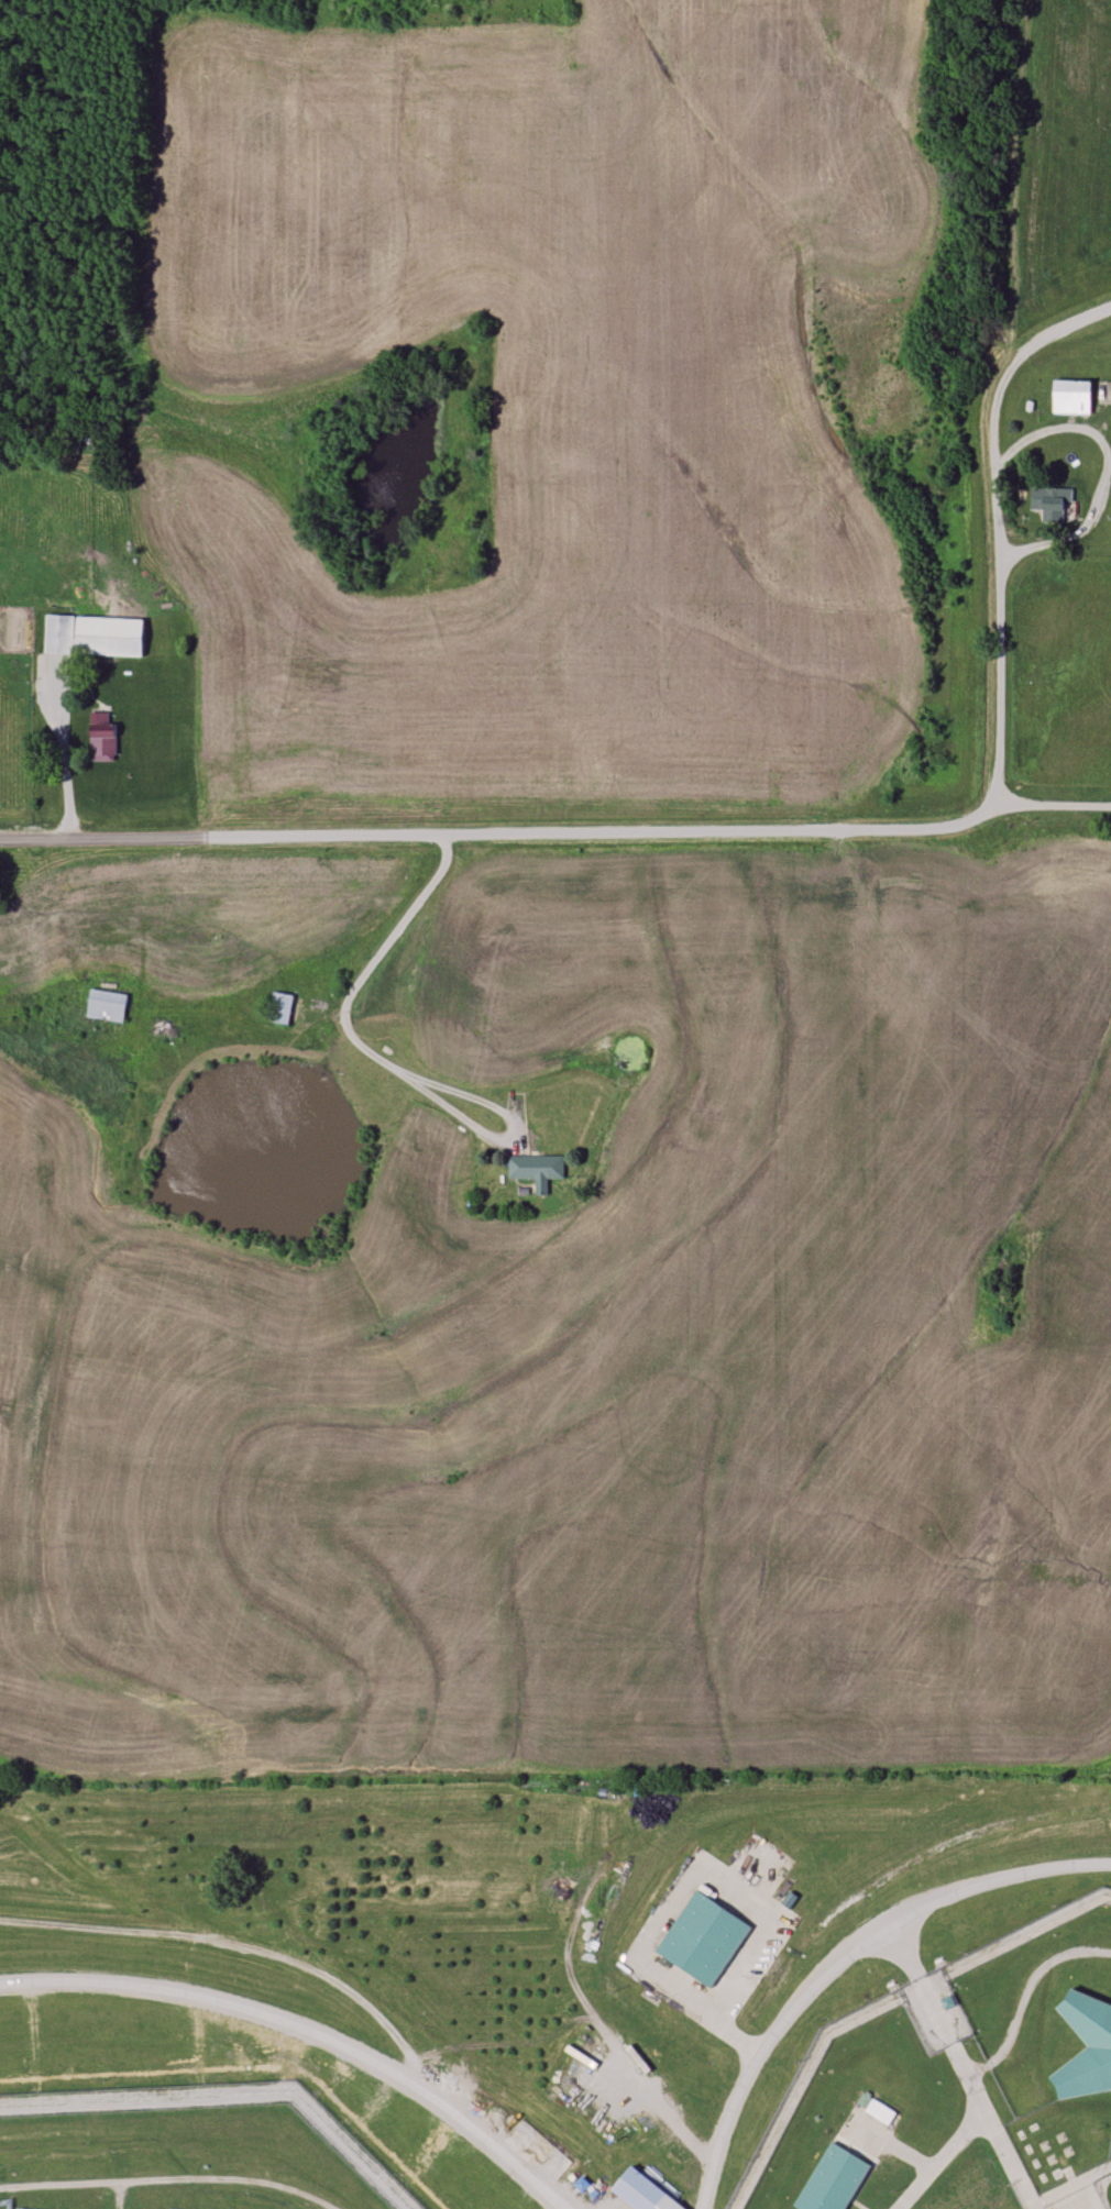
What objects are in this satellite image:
building: (1071, 397)
road: (1104, 472)
building: (1050, 502)
building: (94, 636)
road: (64, 736)
building: (102, 737)
road: (1052, 804)
road: (781, 830)
road: (400, 929)
road: (58, 932)
building: (107, 1005)
building: (280, 1009)
road: (362, 1043)
road: (453, 1089)
building: (536, 1170)
road: (674, 1899)
building: (702, 1939)
road: (248, 1945)
road: (843, 1963)
road: (1030, 1982)
road: (937, 2014)
road: (308, 2035)
building: (1086, 2045)
road: (977, 2068)
road: (894, 2145)
road: (1005, 2155)
road: (938, 2156)
road: (170, 2178)
building: (833, 2179)
road: (1070, 2185)
building: (642, 2191)
park: (1107, 2193)
road: (1088, 2194)
road: (857, 2204)

